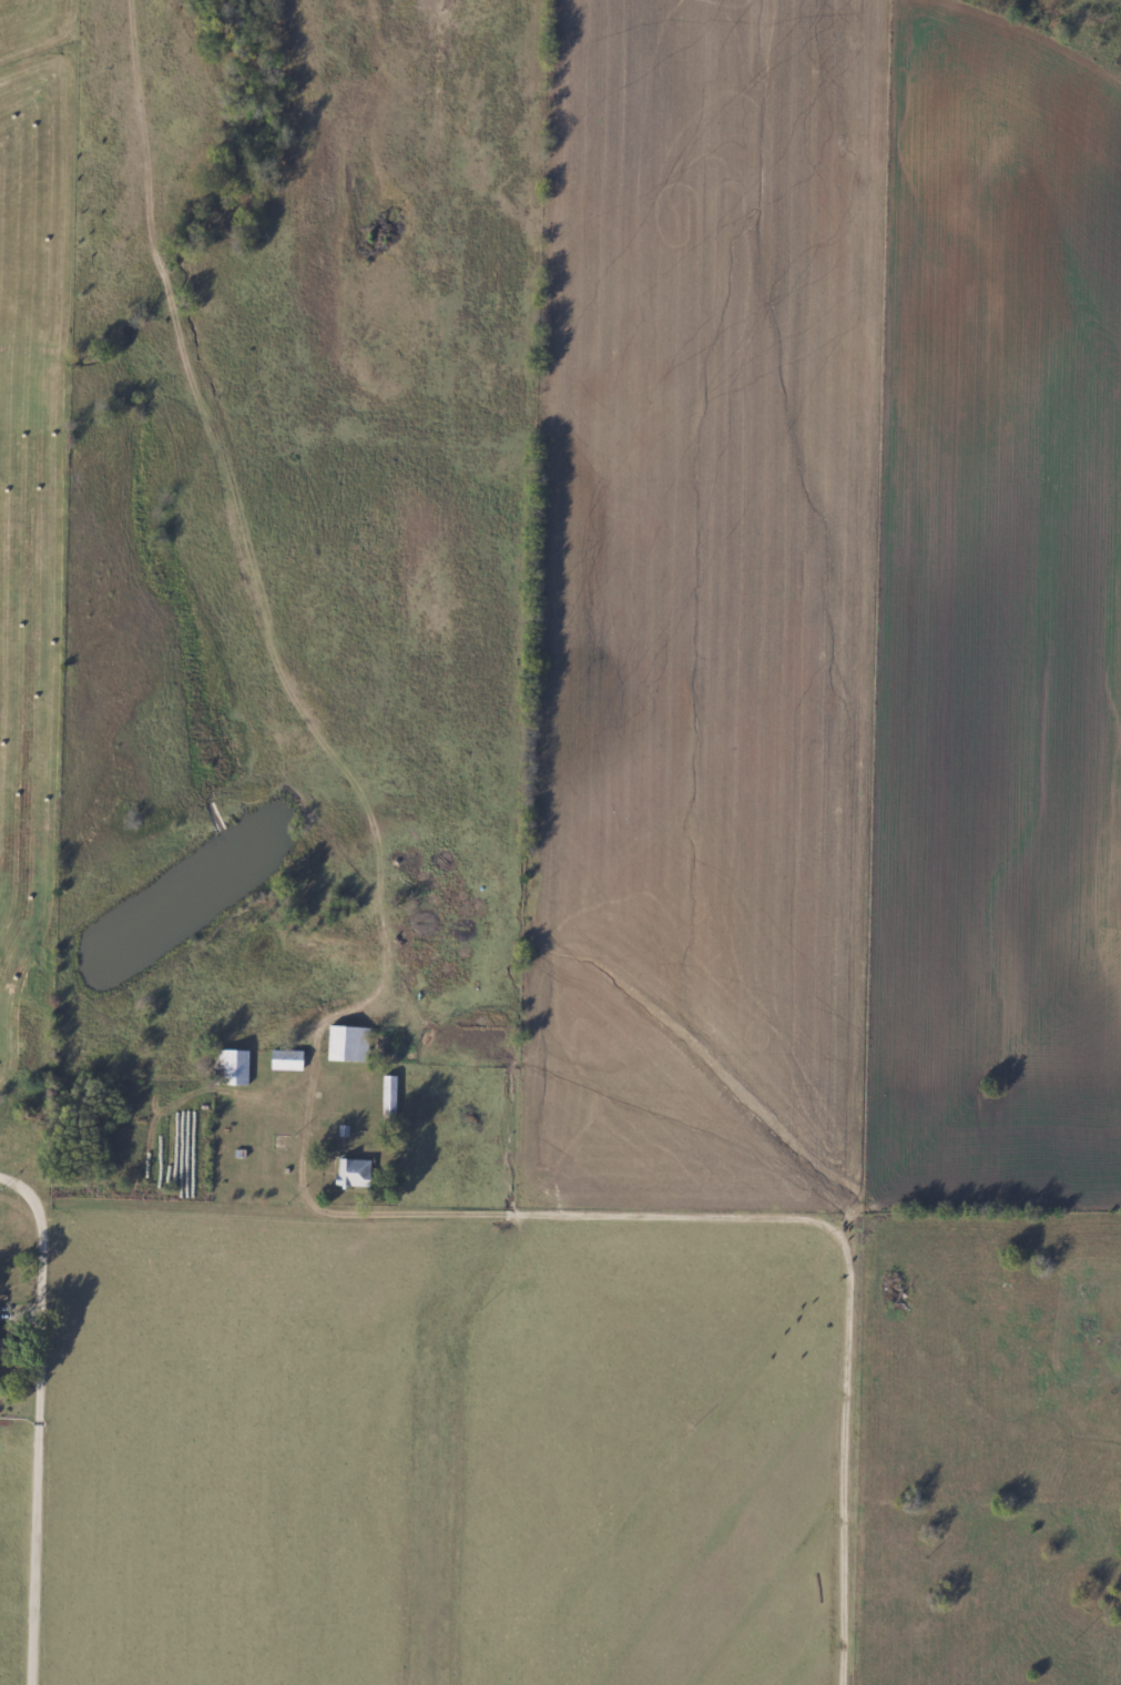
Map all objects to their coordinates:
building: (348, 1044)
road: (312, 1053)
building: (288, 1060)
building: (234, 1068)
building: (356, 1175)
road: (24, 1196)
building: (2, 1344)
road: (33, 1454)

